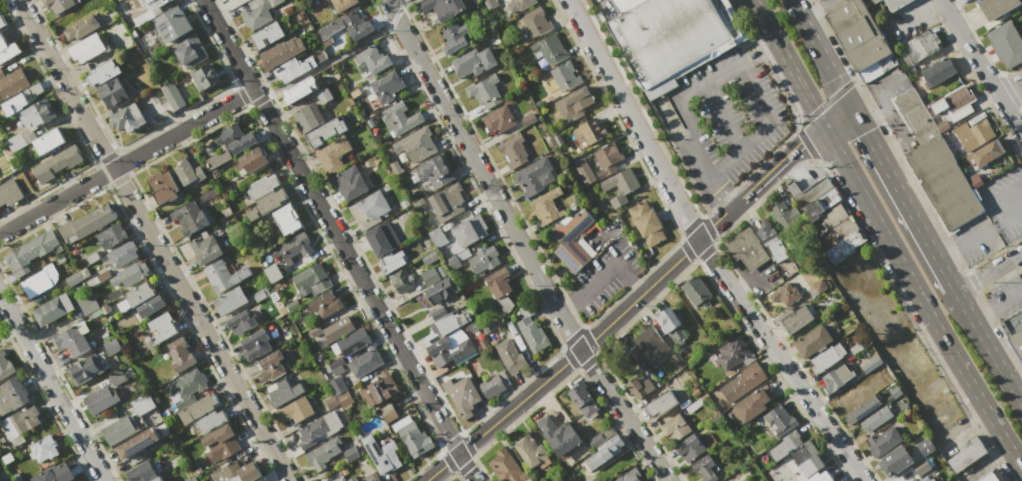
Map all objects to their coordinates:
building: (874, 1)
building: (275, 2)
building: (490, 3)
road: (602, 3)
building: (58, 4)
building: (343, 4)
building: (626, 4)
building: (896, 4)
building: (519, 5)
building: (443, 7)
building: (997, 7)
road: (815, 9)
building: (149, 10)
road: (920, 13)
building: (256, 16)
building: (1021, 21)
building: (536, 22)
building: (2, 24)
building: (174, 26)
building: (356, 26)
building: (81, 27)
building: (1021, 30)
building: (858, 33)
building: (268, 35)
building: (674, 36)
building: (454, 38)
building: (1006, 44)
building: (923, 46)
building: (89, 47)
building: (7, 49)
building: (549, 49)
road: (820, 50)
building: (190, 53)
building: (281, 53)
road: (339, 54)
building: (371, 61)
building: (474, 62)
road: (787, 62)
road: (981, 67)
building: (292, 68)
building: (938, 71)
building: (104, 72)
building: (564, 75)
building: (204, 77)
building: (12, 83)
building: (386, 86)
building: (300, 90)
building: (114, 91)
building: (485, 92)
building: (323, 95)
road: (1012, 96)
building: (21, 99)
building: (953, 99)
traffic signals: (849, 102)
building: (574, 103)
building: (160, 104)
road: (889, 104)
road: (665, 105)
road: (836, 113)
building: (37, 115)
building: (915, 116)
building: (126, 117)
building: (308, 117)
road: (722, 117)
building: (399, 118)
building: (529, 119)
building: (498, 120)
road: (765, 129)
building: (589, 131)
building: (326, 132)
building: (974, 135)
building: (234, 138)
building: (558, 140)
building: (49, 141)
building: (16, 142)
building: (419, 142)
road: (892, 144)
building: (513, 151)
building: (985, 153)
building: (332, 154)
building: (218, 158)
building: (607, 160)
road: (126, 161)
building: (251, 161)
road: (782, 161)
building: (56, 164)
building: (577, 166)
building: (188, 171)
building: (435, 171)
building: (534, 176)
building: (350, 182)
building: (945, 182)
building: (582, 183)
building: (163, 186)
building: (262, 186)
building: (622, 187)
building: (808, 191)
building: (9, 192)
road: (999, 194)
road: (902, 196)
building: (209, 197)
building: (447, 202)
building: (266, 203)
building: (419, 204)
building: (820, 204)
building: (546, 206)
building: (369, 209)
building: (834, 215)
building: (785, 216)
building: (189, 217)
building: (287, 219)
building: (647, 222)
building: (85, 224)
building: (841, 229)
building: (470, 230)
building: (111, 235)
building: (436, 236)
building: (572, 238)
road: (981, 238)
building: (381, 239)
road: (152, 240)
building: (771, 240)
road: (337, 241)
road: (520, 244)
building: (845, 246)
road: (703, 247)
building: (291, 248)
building: (746, 248)
building: (206, 249)
building: (31, 251)
building: (122, 253)
building: (91, 257)
building: (428, 258)
building: (456, 259)
building: (483, 259)
building: (392, 261)
building: (133, 272)
building: (273, 272)
road: (988, 272)
building: (224, 275)
building: (429, 277)
building: (74, 278)
building: (98, 278)
road: (603, 278)
building: (310, 279)
building: (402, 279)
building: (498, 282)
building: (35, 284)
road: (749, 285)
building: (820, 286)
building: (696, 291)
traffic signals: (956, 292)
building: (440, 293)
building: (114, 294)
building: (260, 294)
building: (785, 294)
building: (135, 296)
road: (919, 297)
road: (1009, 297)
building: (229, 300)
building: (87, 303)
building: (325, 304)
building: (150, 305)
building: (291, 305)
building: (52, 309)
traffic signals: (928, 312)
building: (797, 319)
building: (241, 322)
building: (447, 323)
building: (672, 325)
building: (162, 326)
building: (471, 327)
building: (332, 330)
building: (1014, 330)
building: (531, 334)
building: (71, 340)
building: (814, 341)
building: (350, 342)
road: (587, 343)
building: (650, 343)
building: (255, 344)
building: (111, 346)
building: (450, 348)
road: (988, 348)
building: (733, 353)
building: (181, 354)
building: (633, 355)
building: (510, 356)
building: (827, 357)
building: (364, 362)
building: (471, 365)
building: (4, 366)
building: (335, 366)
building: (270, 367)
building: (892, 368)
building: (85, 369)
building: (116, 378)
building: (836, 378)
building: (695, 381)
building: (743, 382)
building: (337, 385)
building: (186, 386)
building: (491, 386)
building: (639, 387)
road: (51, 389)
building: (379, 389)
building: (283, 393)
building: (11, 394)
building: (462, 395)
building: (582, 398)
road: (1020, 398)
building: (101, 399)
building: (345, 400)
building: (330, 402)
building: (661, 402)
building: (142, 404)
building: (753, 404)
building: (197, 409)
building: (862, 409)
building: (295, 411)
building: (389, 414)
building: (876, 419)
building: (781, 420)
building: (210, 421)
building: (20, 423)
building: (675, 427)
building: (120, 429)
building: (319, 429)
building: (558, 435)
building: (414, 439)
building: (882, 441)
building: (138, 443)
building: (219, 444)
building: (785, 445)
building: (926, 447)
building: (690, 448)
building: (43, 449)
building: (530, 451)
building: (603, 452)
building: (322, 453)
building: (351, 454)
building: (382, 454)
building: (967, 454)
building: (7, 458)
building: (895, 461)
building: (811, 465)
building: (506, 467)
building: (921, 467)
building: (705, 468)
building: (197, 471)
building: (141, 472)
building: (236, 472)
building: (56, 473)
building: (630, 476)
building: (992, 476)
building: (17, 477)
building: (372, 477)
building: (820, 477)
building: (156, 478)
building: (191, 479)
building: (926, 479)
building: (263, 480)
building: (355, 480)
building: (530, 480)

